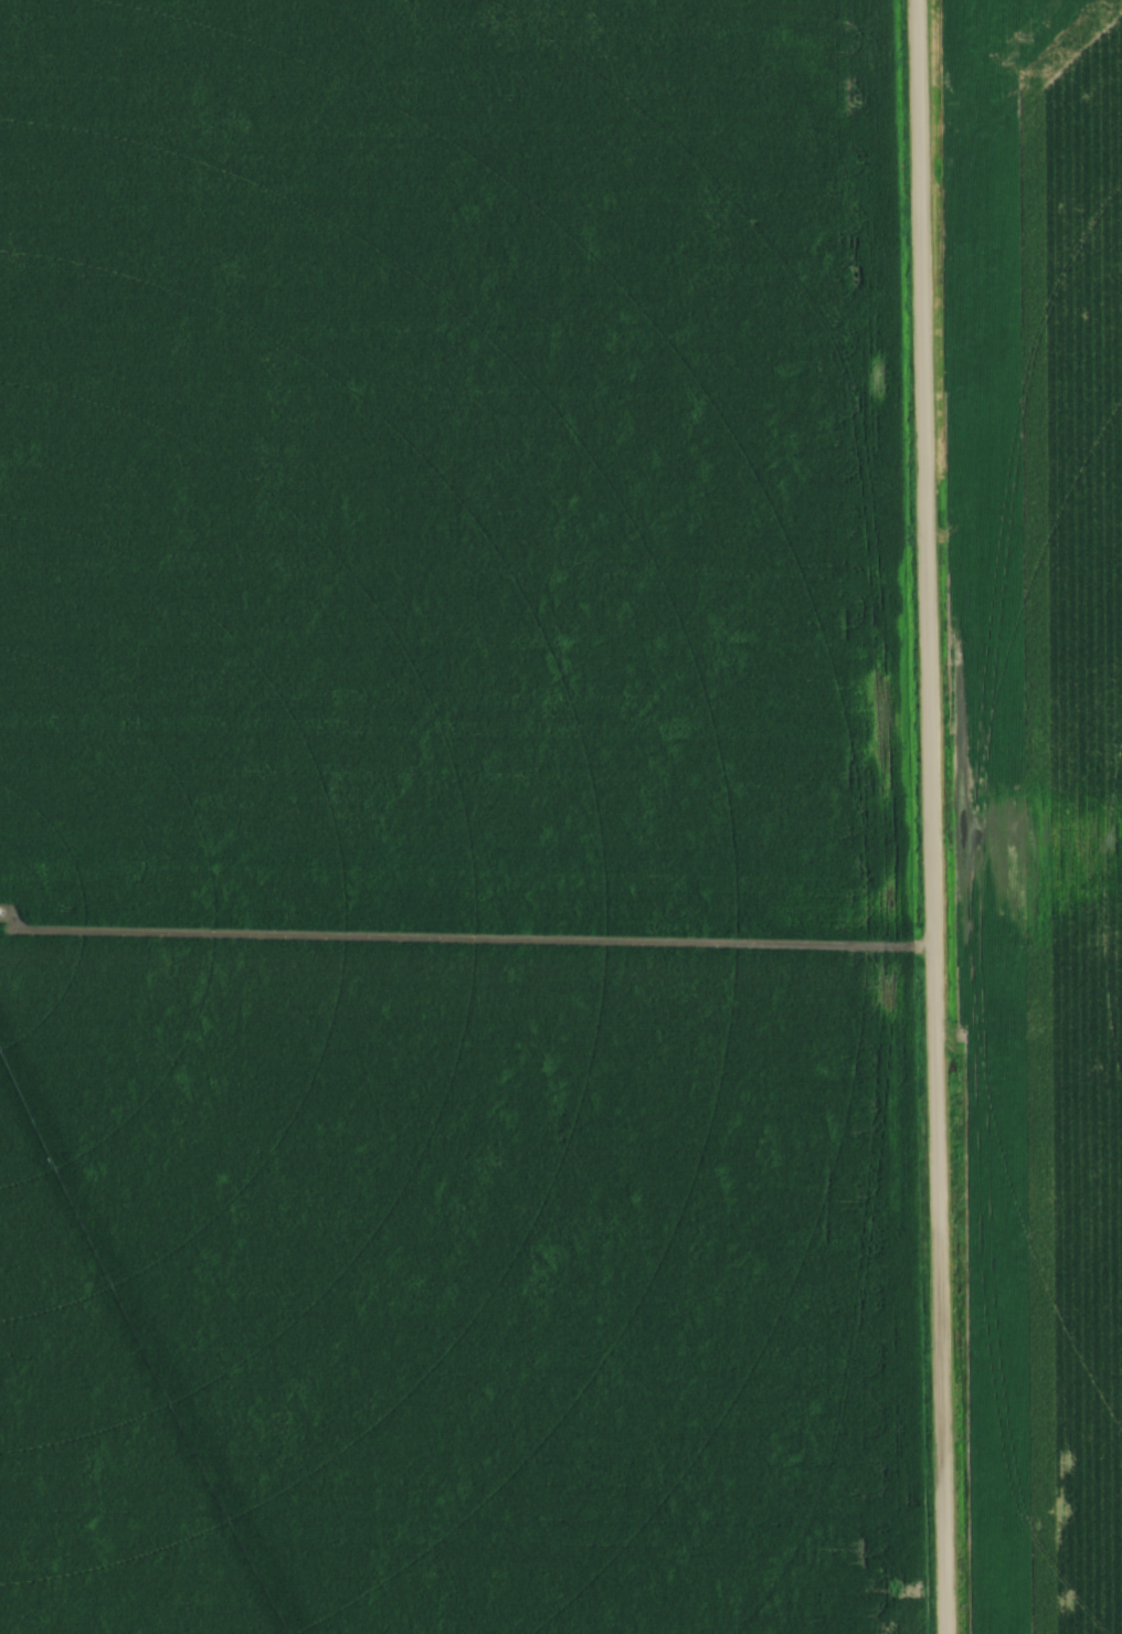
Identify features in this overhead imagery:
road: (927, 816)

